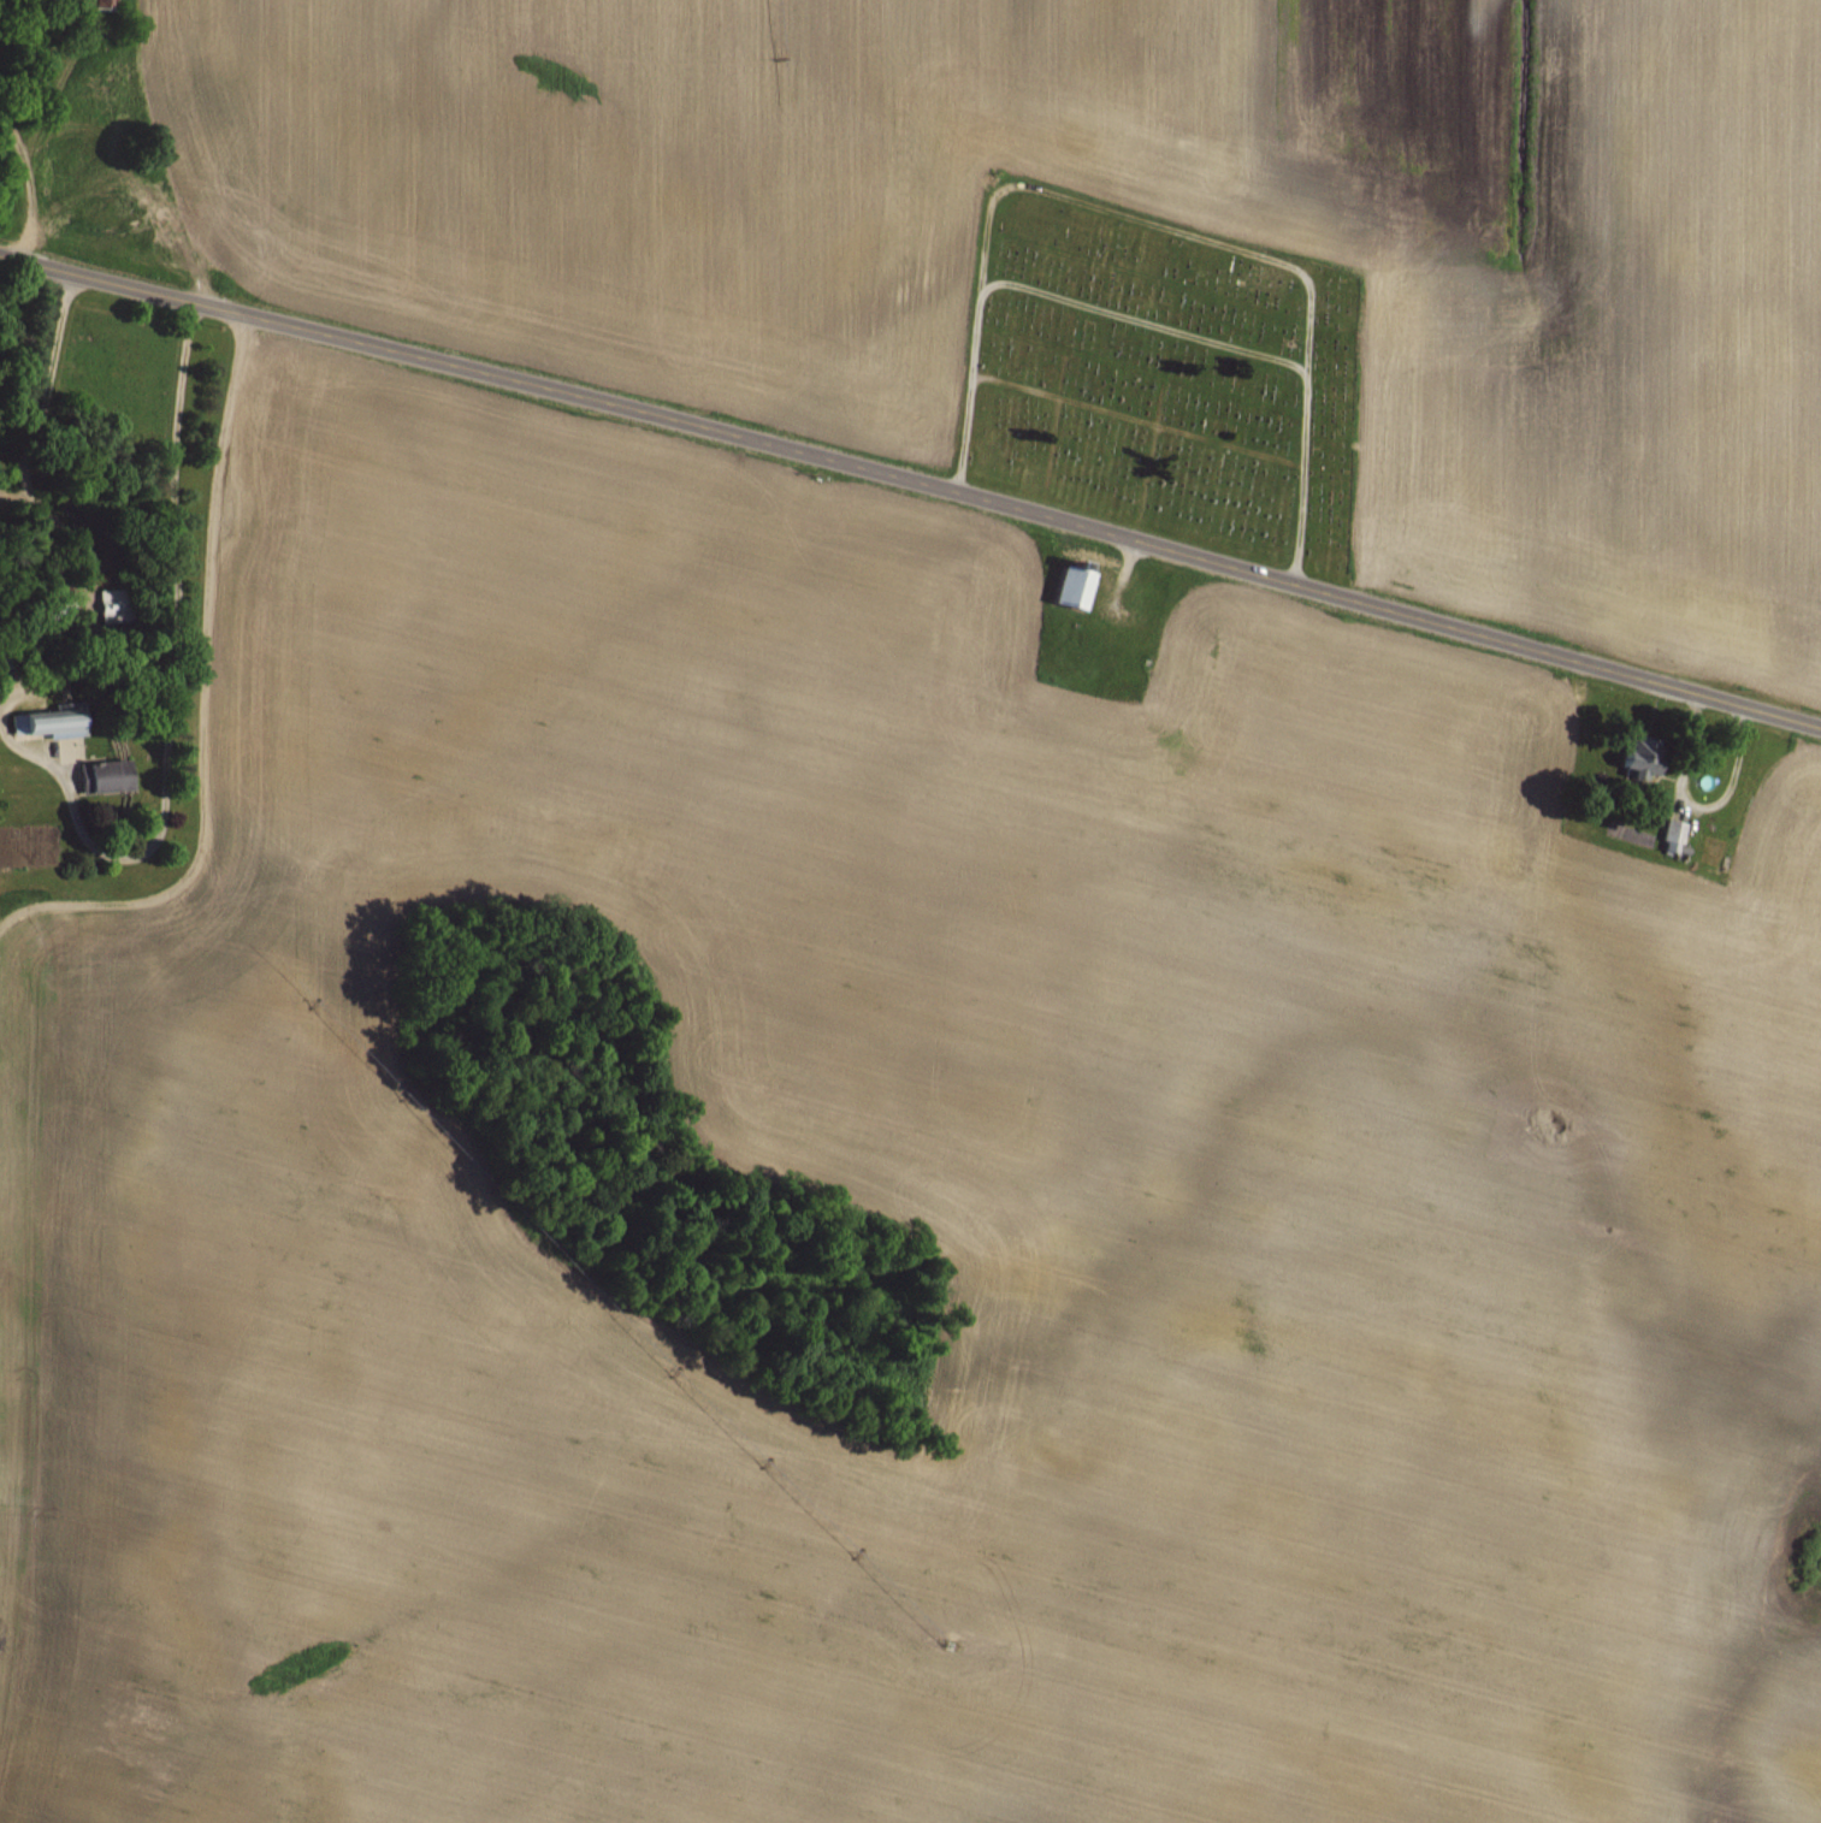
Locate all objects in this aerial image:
road: (1252, 251)
road: (1050, 294)
park: (1160, 375)
road: (1130, 418)
road: (1051, 443)
road: (1151, 460)
road: (912, 479)
road: (1063, 538)
building: (1080, 552)
road: (1080, 552)
road: (1129, 556)
road: (1101, 558)
building: (1072, 585)
parking lot: (1115, 598)
building: (53, 721)
building: (1648, 758)
building: (108, 774)
building: (1675, 834)

